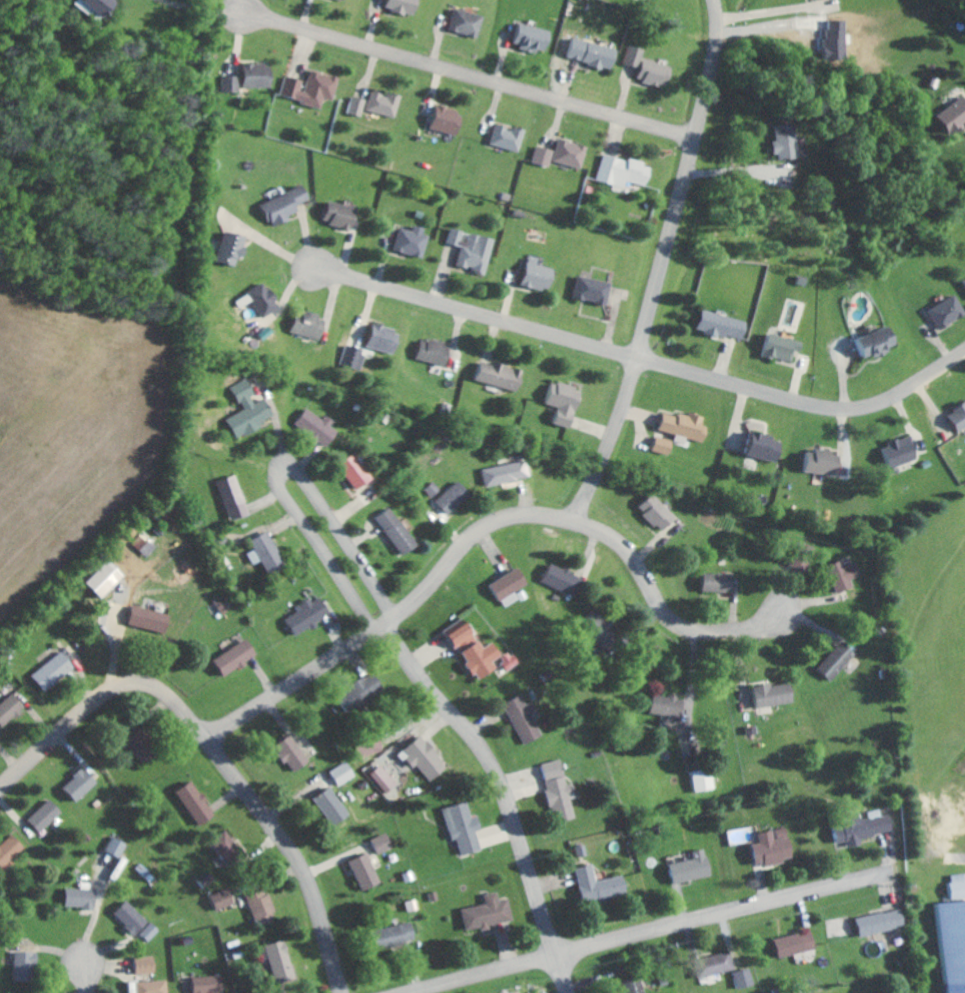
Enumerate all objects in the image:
building: (344, 0)
building: (93, 4)
building: (398, 6)
road: (203, 11)
road: (773, 15)
building: (460, 23)
building: (527, 38)
building: (585, 53)
building: (643, 68)
building: (245, 78)
road: (474, 78)
building: (306, 89)
building: (380, 104)
building: (353, 106)
building: (949, 116)
building: (442, 120)
building: (502, 137)
building: (778, 141)
building: (565, 153)
building: (539, 156)
building: (619, 171)
building: (279, 204)
building: (333, 215)
building: (407, 241)
road: (275, 247)
building: (224, 248)
building: (468, 250)
road: (669, 266)
building: (531, 275)
building: (961, 283)
building: (586, 290)
building: (257, 299)
building: (940, 311)
building: (306, 325)
building: (714, 325)
building: (377, 339)
building: (869, 343)
building: (774, 347)
building: (430, 352)
road: (648, 361)
building: (493, 375)
building: (557, 402)
building: (243, 411)
building: (954, 416)
building: (311, 426)
building: (679, 426)
road: (281, 429)
building: (657, 445)
building: (756, 447)
building: (817, 462)
building: (348, 471)
building: (502, 473)
road: (290, 480)
building: (431, 488)
building: (228, 497)
building: (449, 498)
building: (650, 512)
building: (391, 530)
road: (485, 532)
building: (261, 552)
building: (797, 556)
building: (838, 574)
building: (556, 578)
building: (97, 580)
building: (711, 582)
building: (502, 587)
building: (219, 605)
building: (302, 616)
building: (145, 620)
building: (592, 626)
building: (465, 650)
building: (237, 657)
building: (501, 660)
building: (830, 661)
building: (54, 670)
building: (766, 695)
building: (659, 706)
building: (12, 708)
building: (518, 719)
building: (144, 745)
building: (294, 753)
building: (427, 758)
road: (220, 763)
building: (345, 772)
building: (385, 778)
building: (83, 783)
building: (561, 787)
road: (9, 792)
road: (506, 793)
building: (197, 802)
building: (335, 805)
building: (46, 815)
building: (465, 827)
building: (225, 841)
building: (383, 843)
building: (119, 846)
building: (766, 847)
building: (10, 848)
building: (694, 867)
building: (367, 871)
building: (600, 884)
building: (955, 886)
building: (83, 898)
building: (224, 898)
building: (264, 906)
building: (490, 912)
road: (725, 912)
building: (139, 920)
building: (875, 922)
building: (402, 933)
building: (792, 944)
building: (948, 946)
building: (283, 960)
building: (148, 964)
building: (716, 964)
building: (25, 965)
road: (482, 972)
building: (744, 978)
road: (88, 980)
building: (211, 984)
building: (636, 984)
building: (155, 986)

